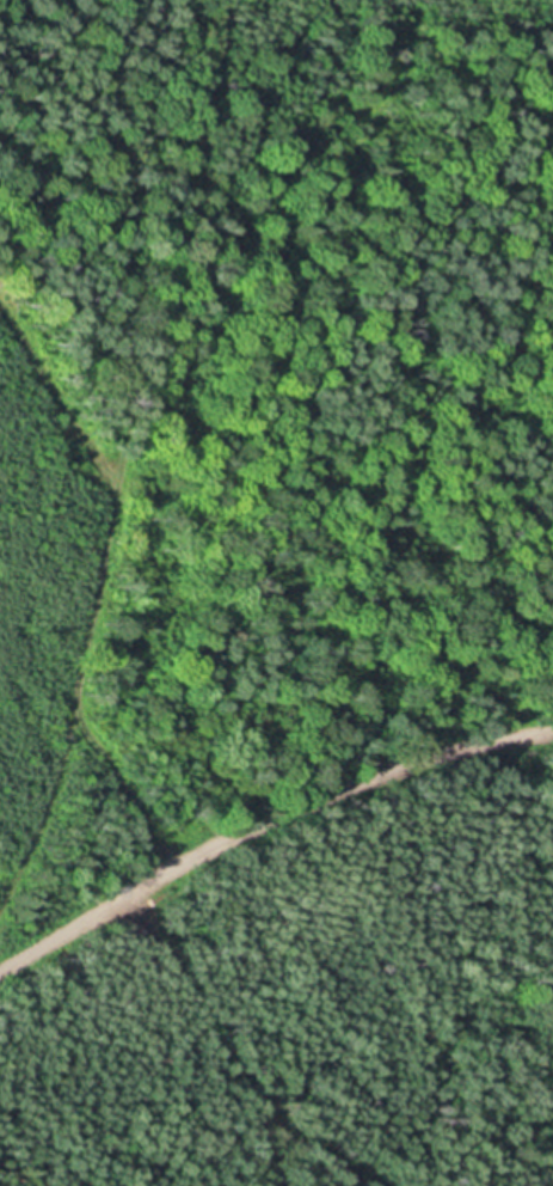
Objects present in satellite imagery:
road: (262, 820)

